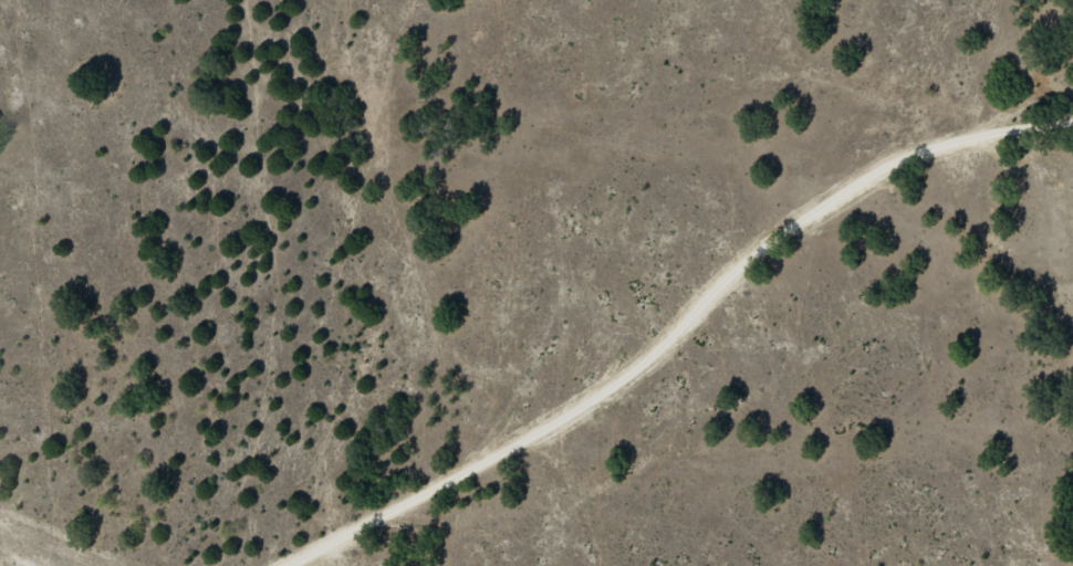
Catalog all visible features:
road: (670, 336)

